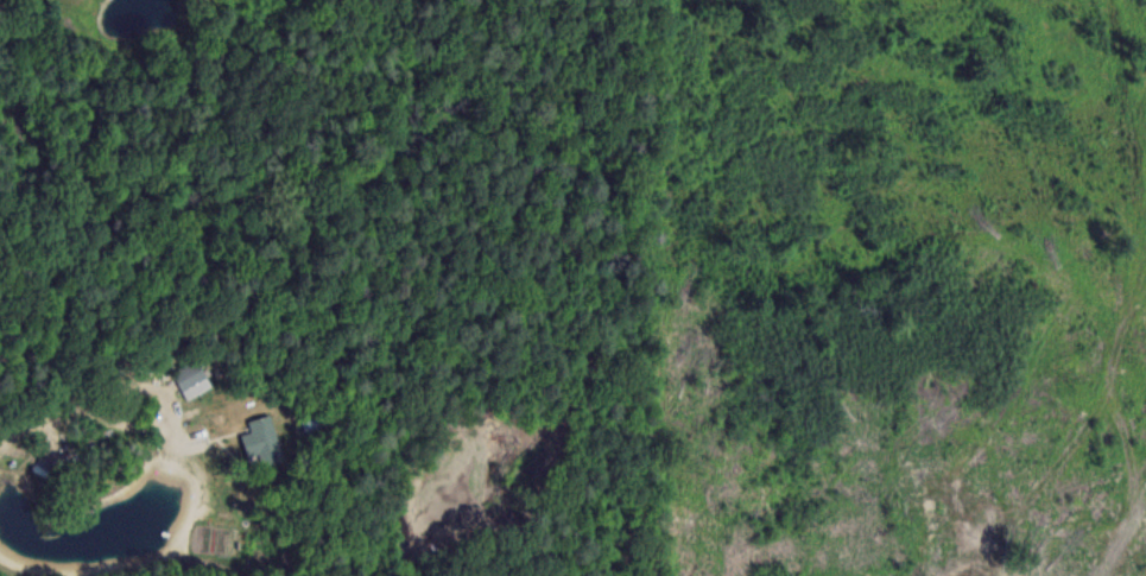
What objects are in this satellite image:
building: (188, 375)
road: (166, 395)
road: (56, 414)

